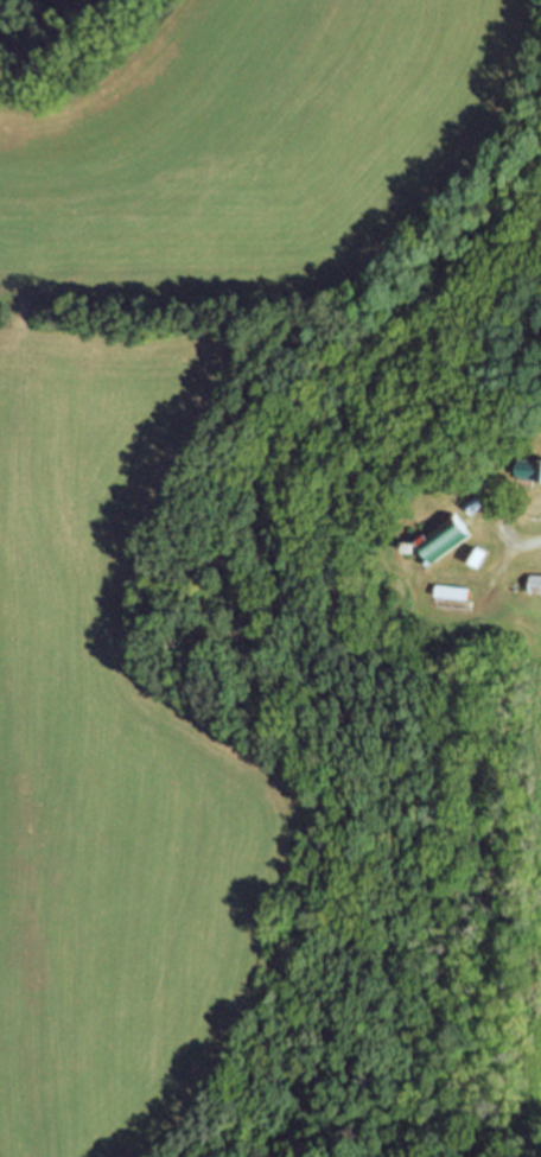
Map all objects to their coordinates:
building: (528, 468)
building: (540, 483)
building: (472, 504)
road: (536, 511)
building: (441, 538)
building: (478, 557)
building: (535, 583)
building: (451, 591)

